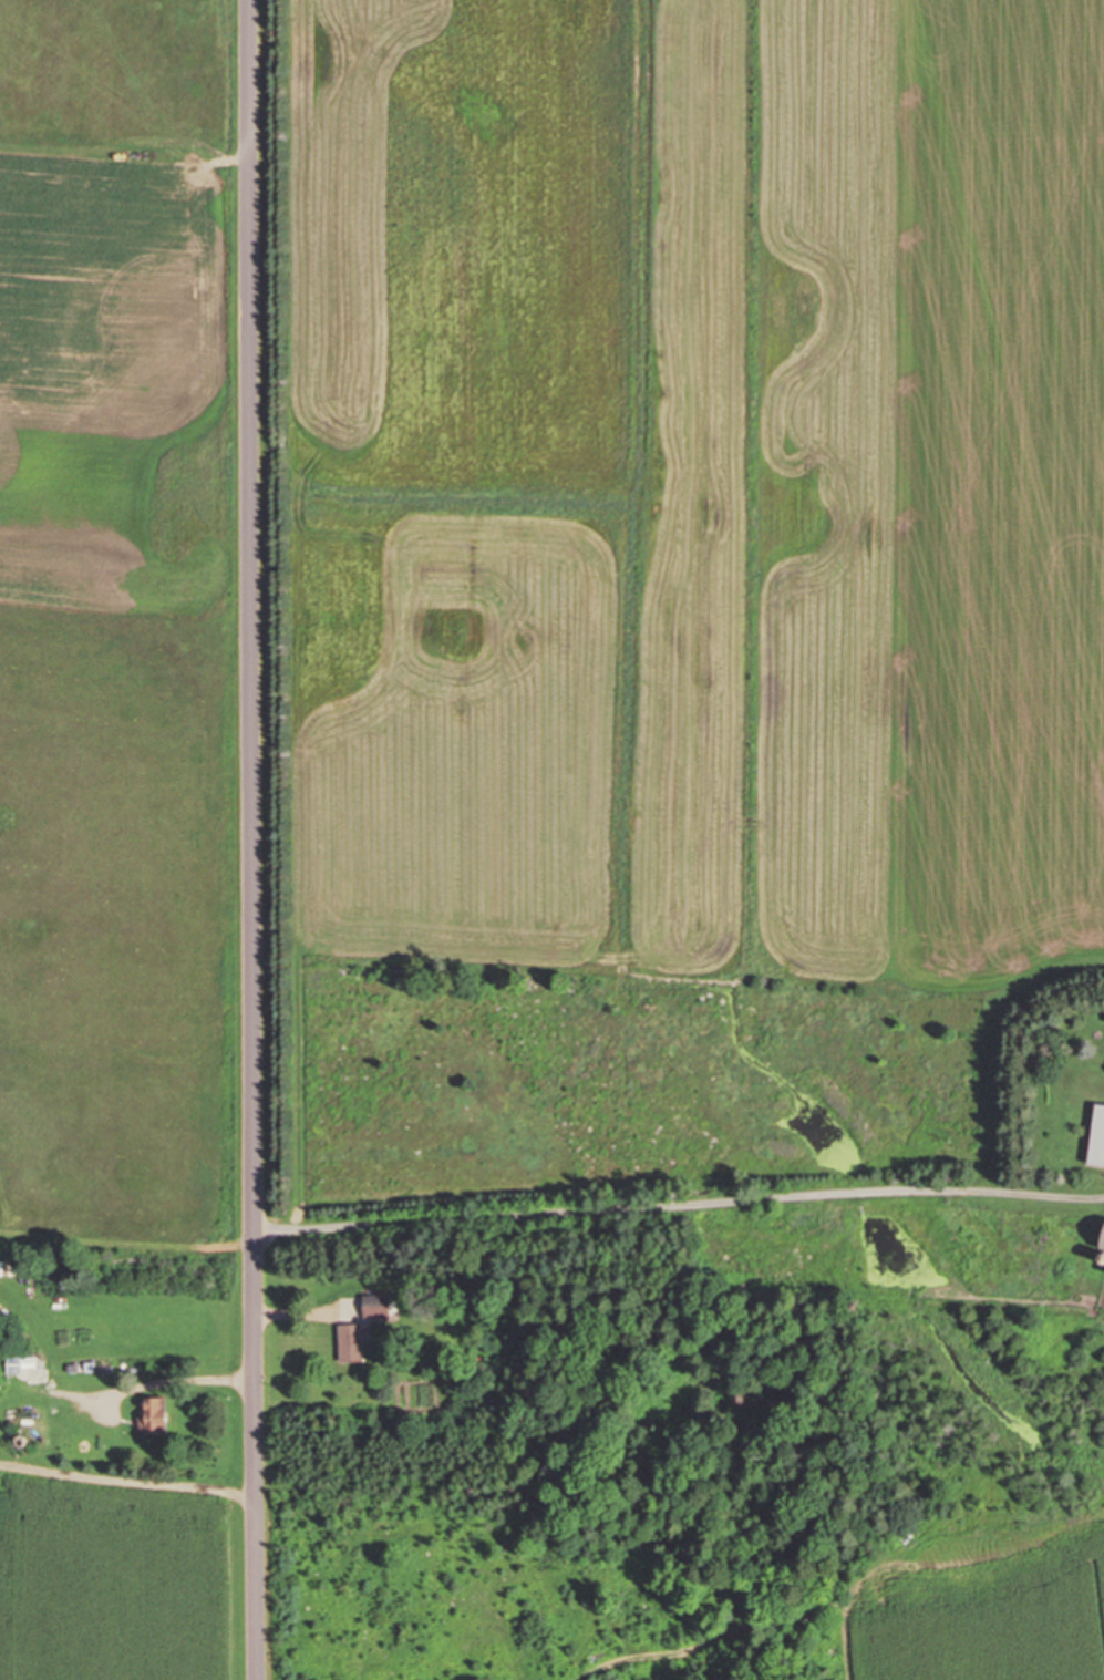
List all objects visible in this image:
road: (255, 839)
building: (1095, 1136)
road: (1083, 1195)
building: (1097, 1237)
building: (1103, 1275)
building: (378, 1305)
building: (351, 1342)
building: (25, 1362)
building: (152, 1414)

